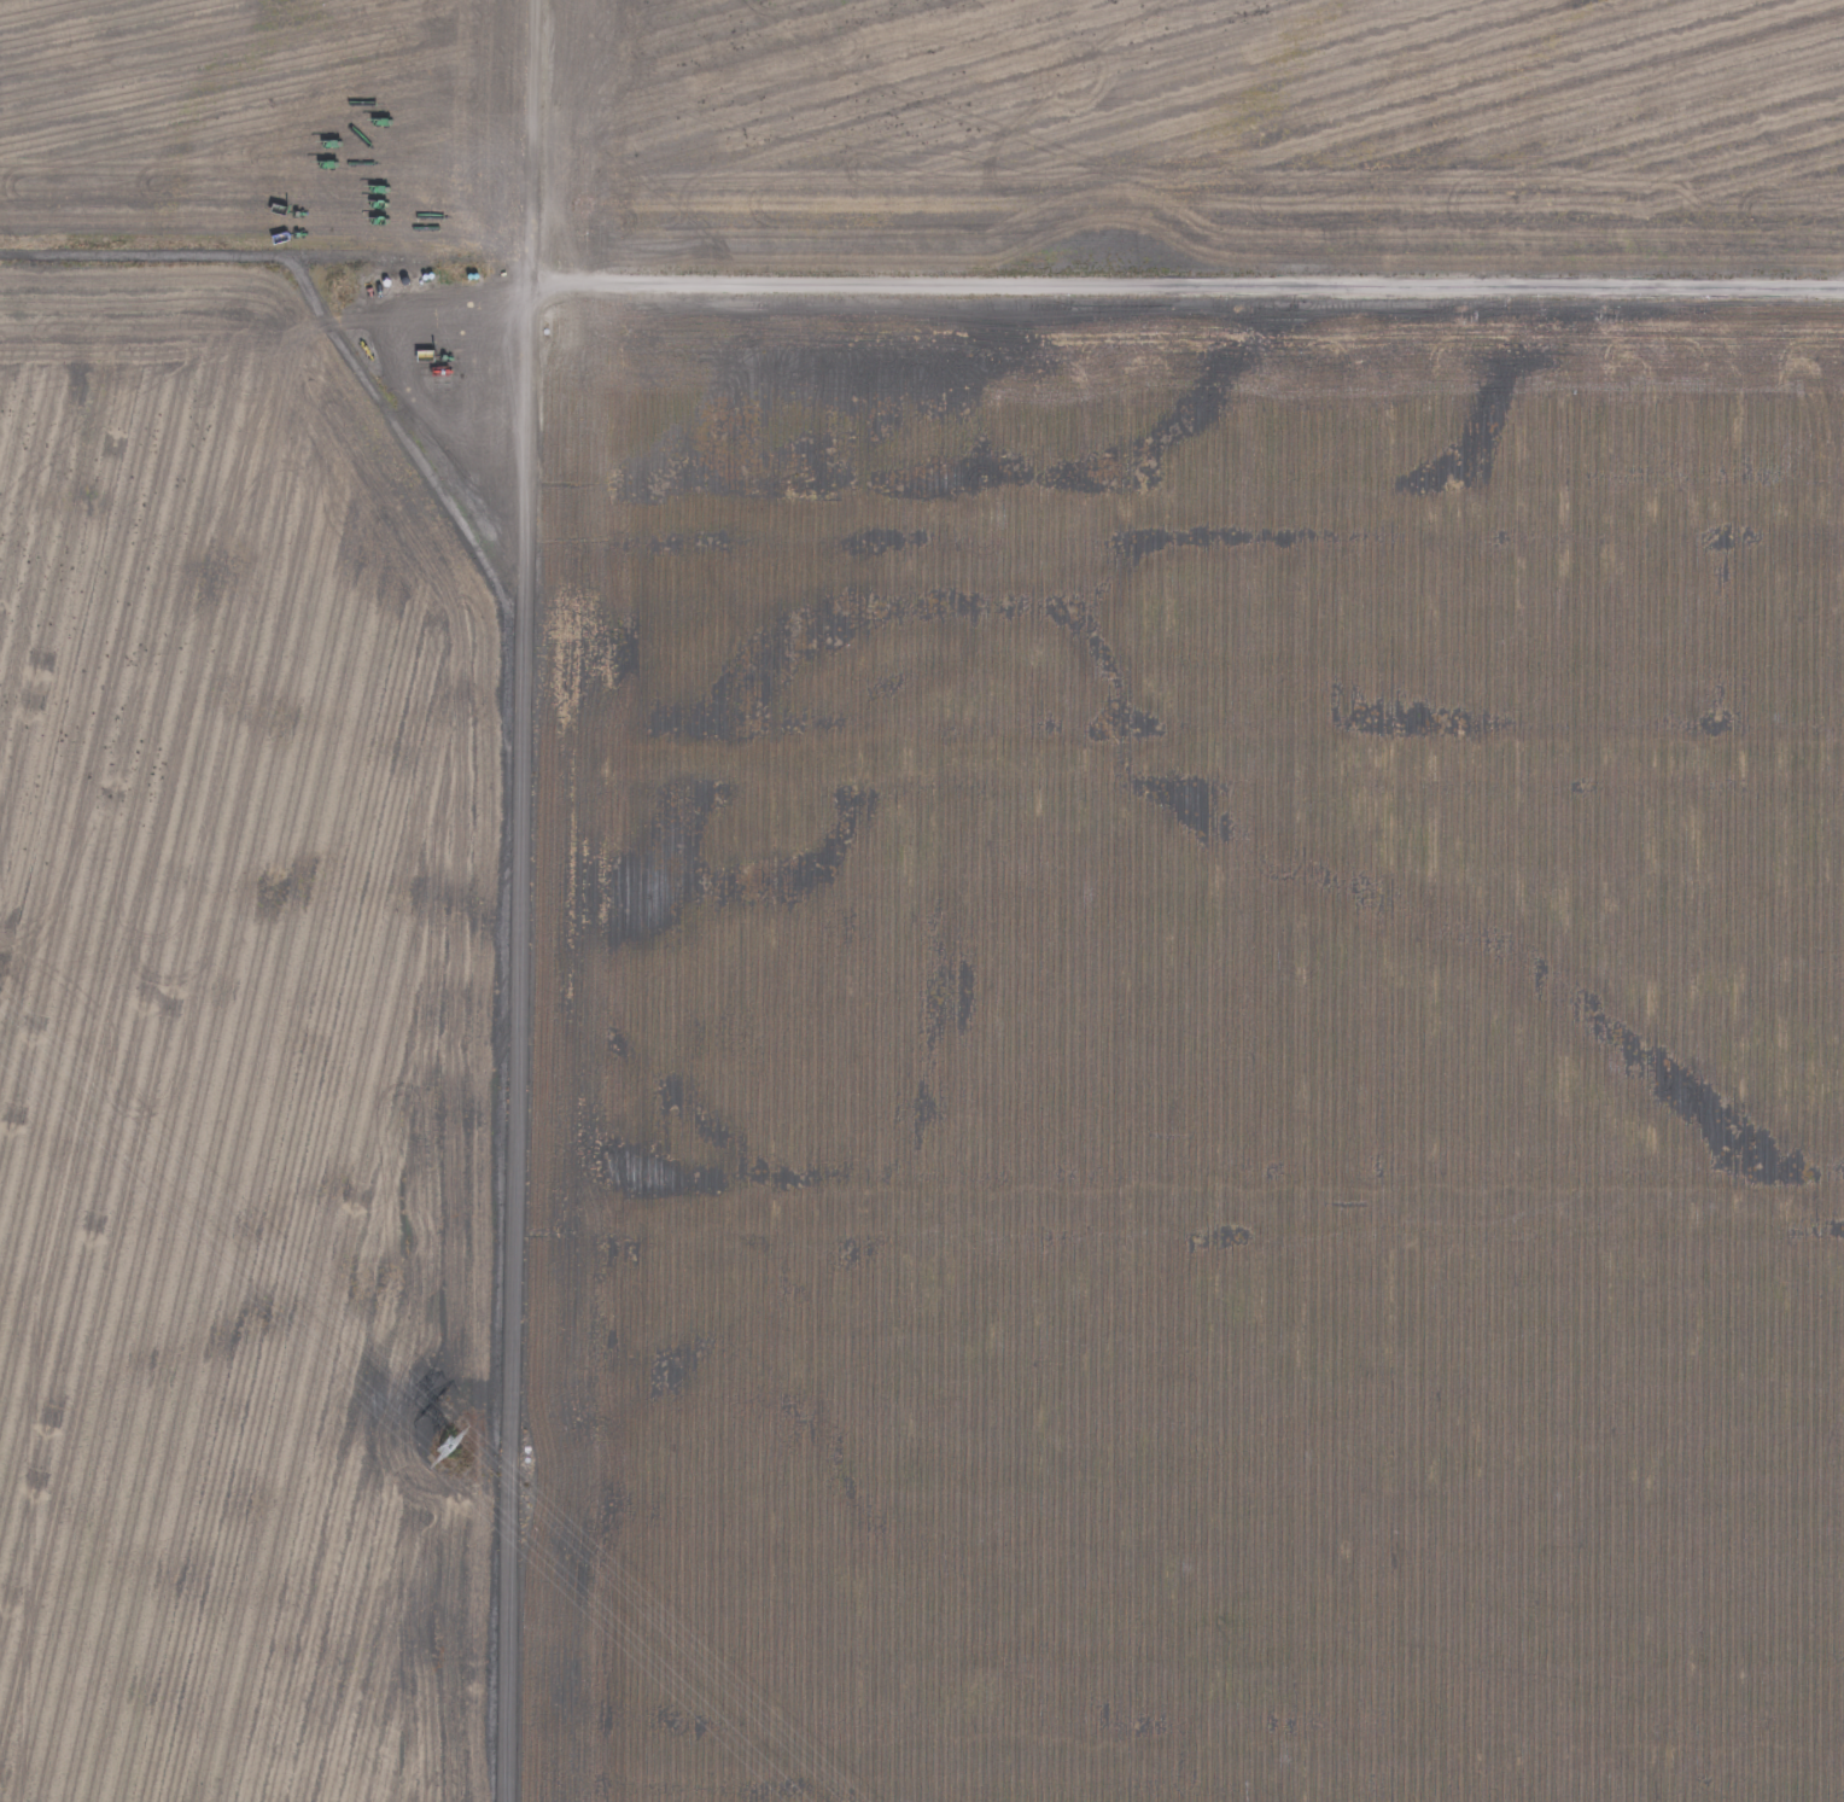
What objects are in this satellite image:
power tower: (453, 1447)

